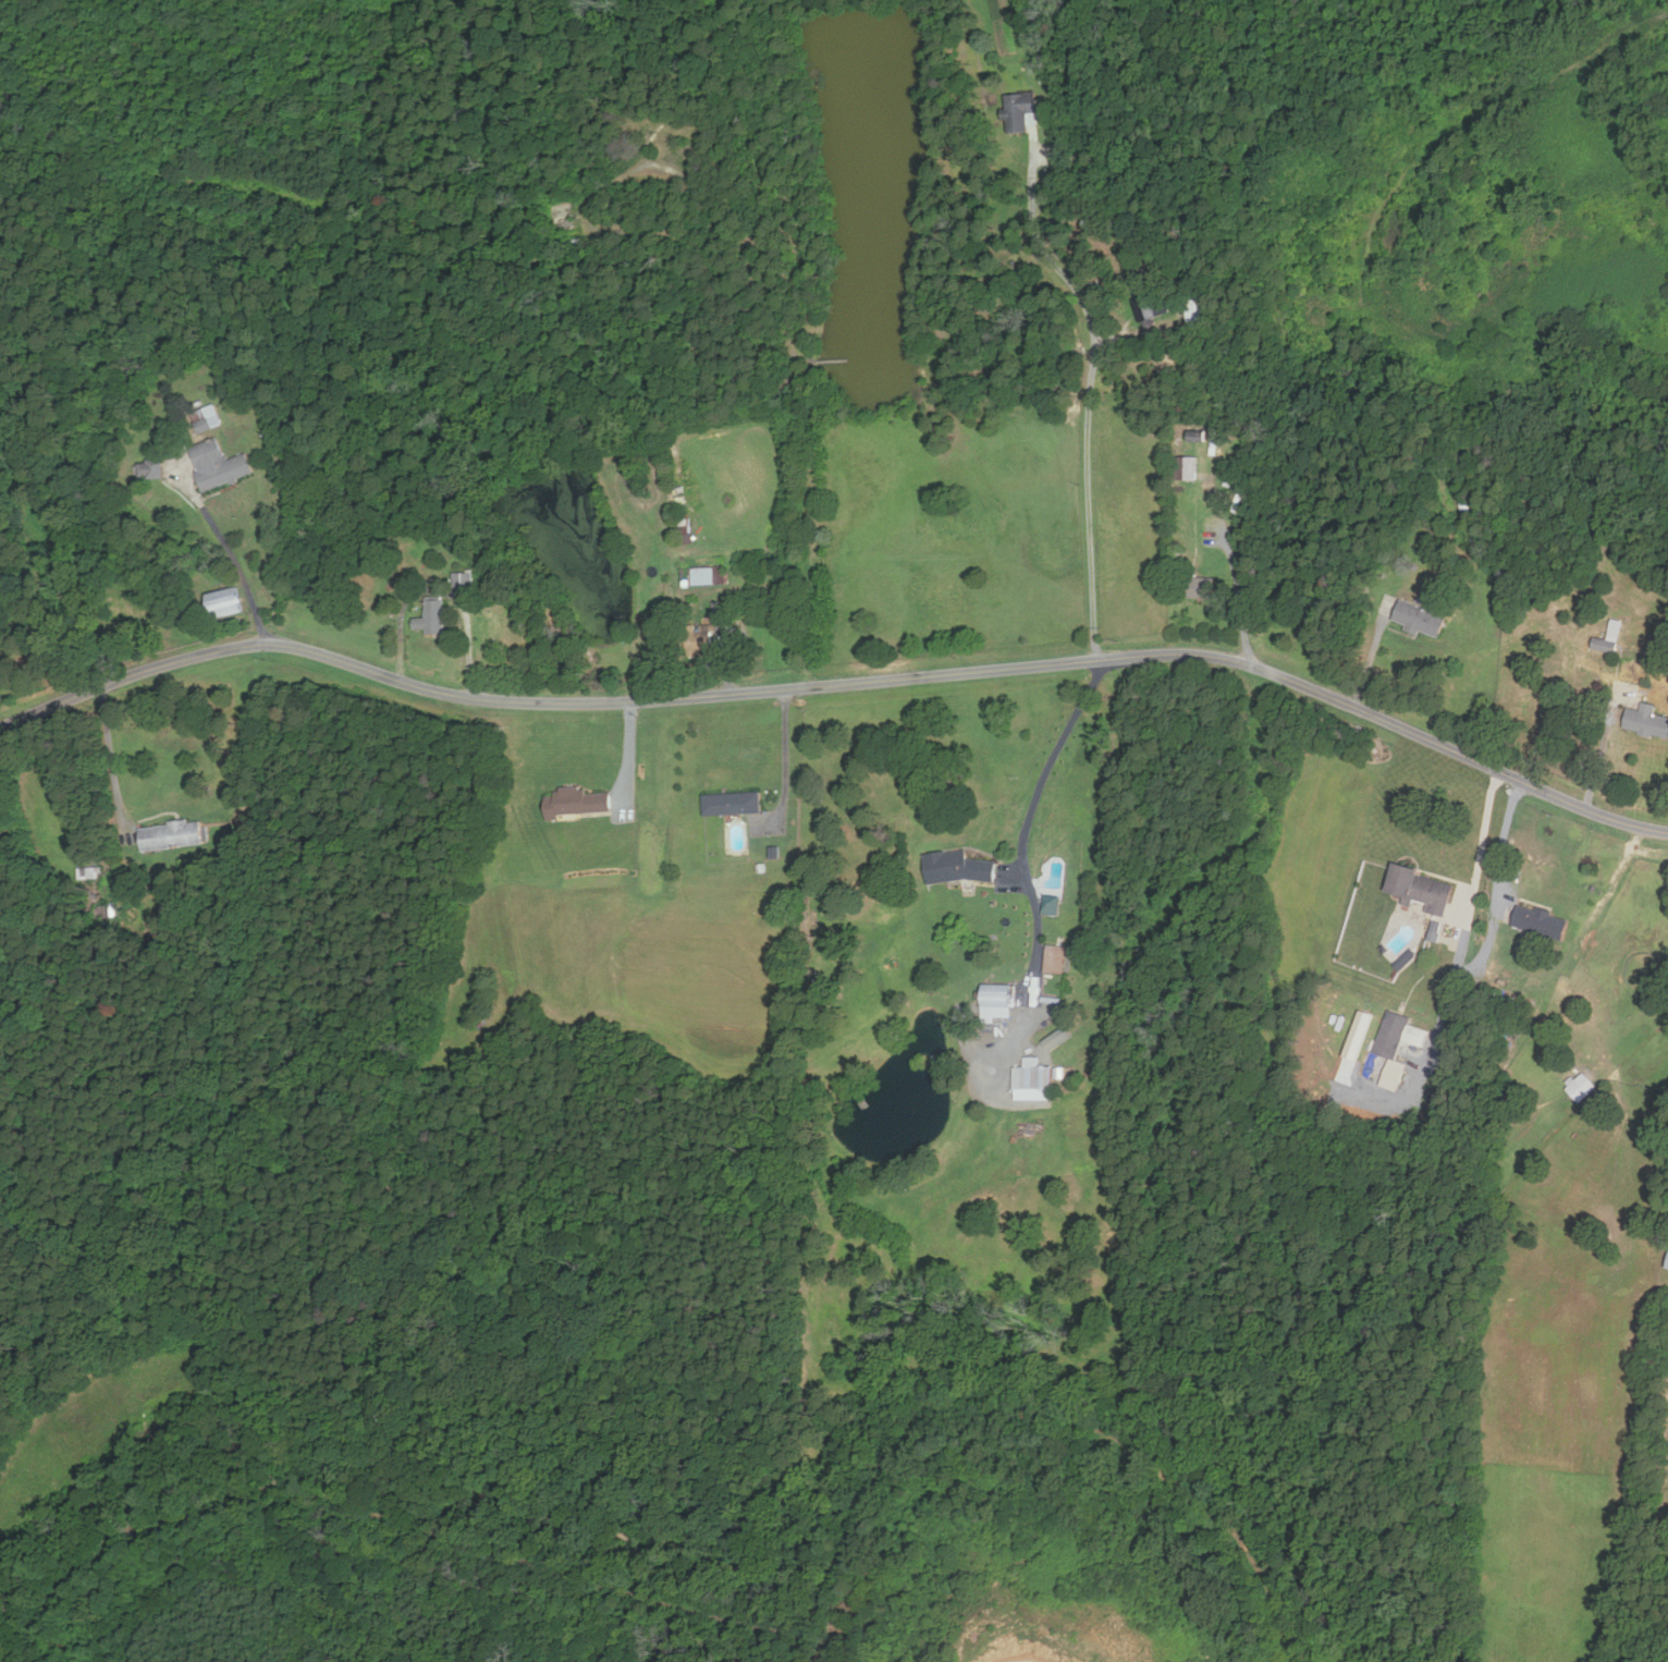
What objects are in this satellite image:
building: (1021, 111)
building: (1149, 307)
road: (1090, 402)
building: (205, 420)
building: (217, 464)
building: (1188, 468)
building: (149, 469)
road: (232, 560)
building: (703, 570)
building: (462, 583)
building: (1199, 586)
road: (442, 592)
road: (1239, 600)
building: (222, 602)
building: (431, 618)
building: (1418, 619)
building: (711, 628)
building: (1607, 638)
road: (1097, 676)
road: (839, 685)
building: (1646, 721)
road: (111, 754)
road: (785, 754)
building: (576, 802)
building: (731, 802)
road: (1484, 826)
road: (1504, 831)
building: (169, 834)
road: (1022, 836)
building: (954, 867)
building: (1418, 888)
building: (1048, 905)
building: (1538, 921)
building: (1436, 931)
building: (1053, 954)
building: (995, 1002)
building: (1396, 1035)
building: (1055, 1038)
building: (1031, 1077)
building: (1579, 1087)
building: (1667, 1262)

